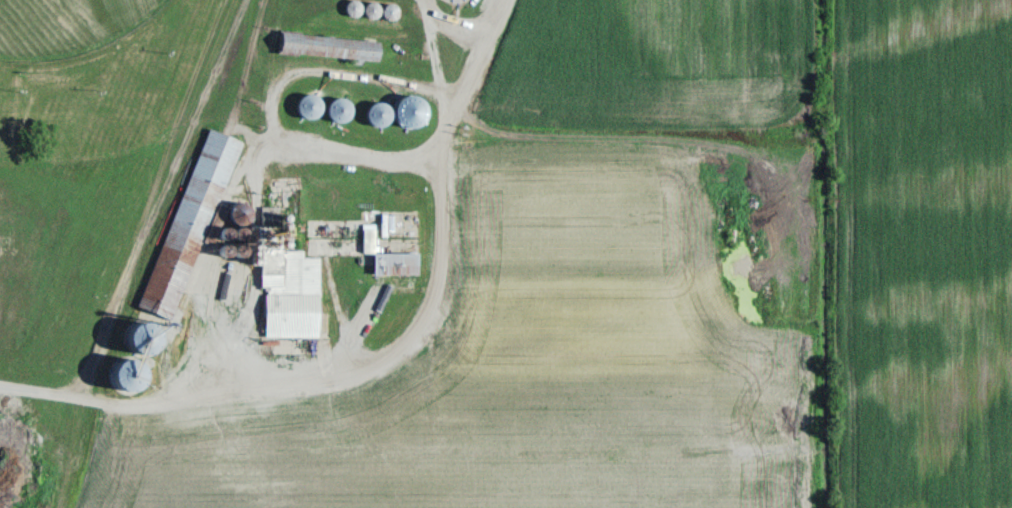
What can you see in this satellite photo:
building: (389, 12)
park: (66, 25)
building: (321, 48)
building: (308, 106)
building: (338, 111)
building: (376, 114)
building: (336, 244)
building: (393, 263)
building: (290, 296)
road: (388, 361)
building: (126, 376)

